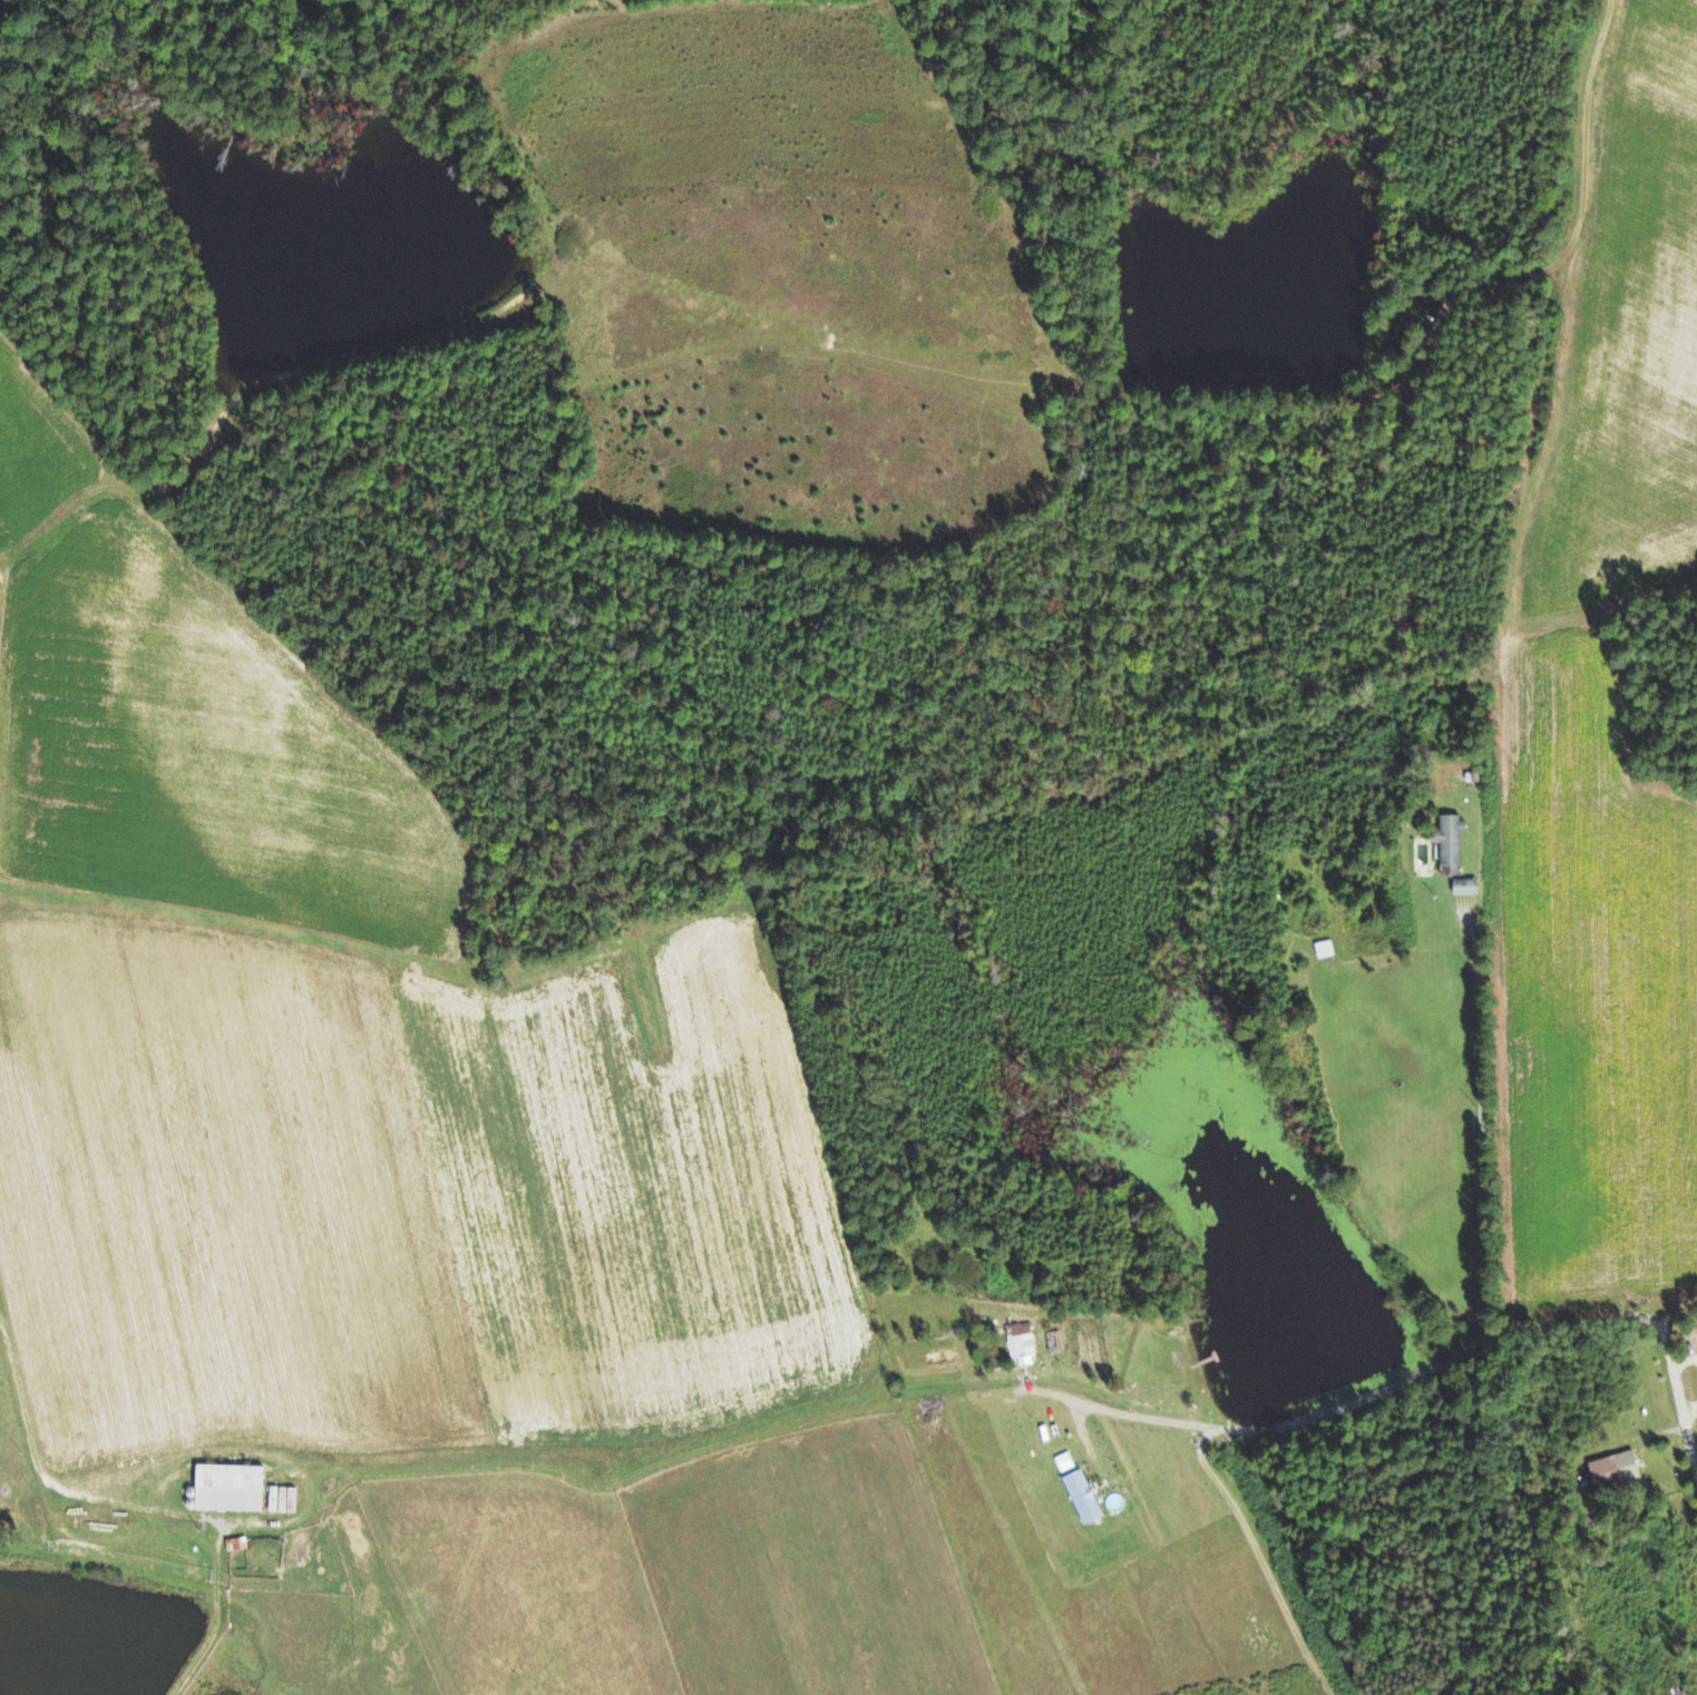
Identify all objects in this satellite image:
building: (1447, 843)
building: (1463, 886)
building: (1020, 1342)
road: (1681, 1399)
road: (1311, 1418)
road: (27, 1437)
building: (1611, 1469)
building: (225, 1487)
building: (1080, 1496)
building: (280, 1498)
building: (233, 1542)
road: (1261, 1559)

